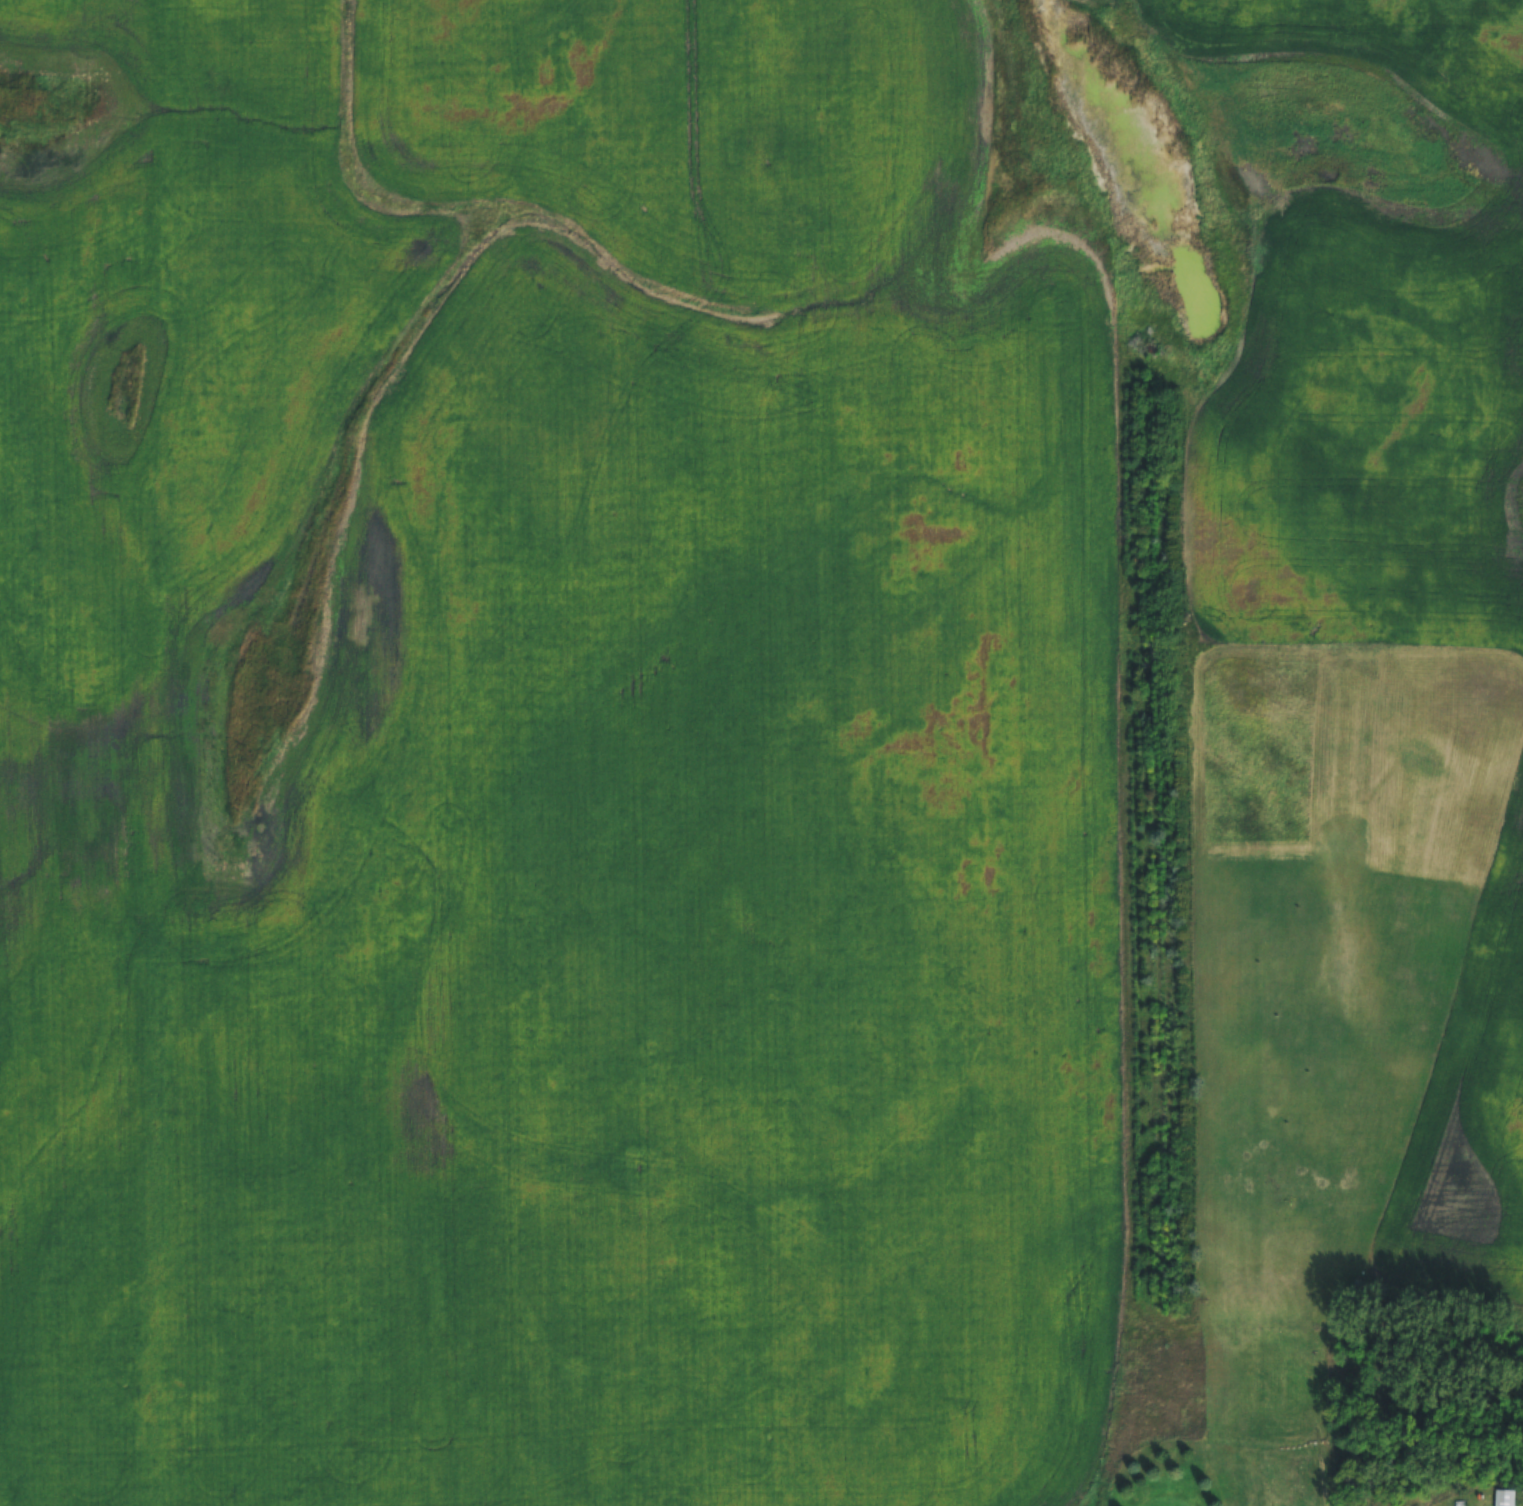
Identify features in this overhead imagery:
park: (1305, 1427)
road: (1321, 1469)
building: (1502, 1495)
building: (1456, 1502)

